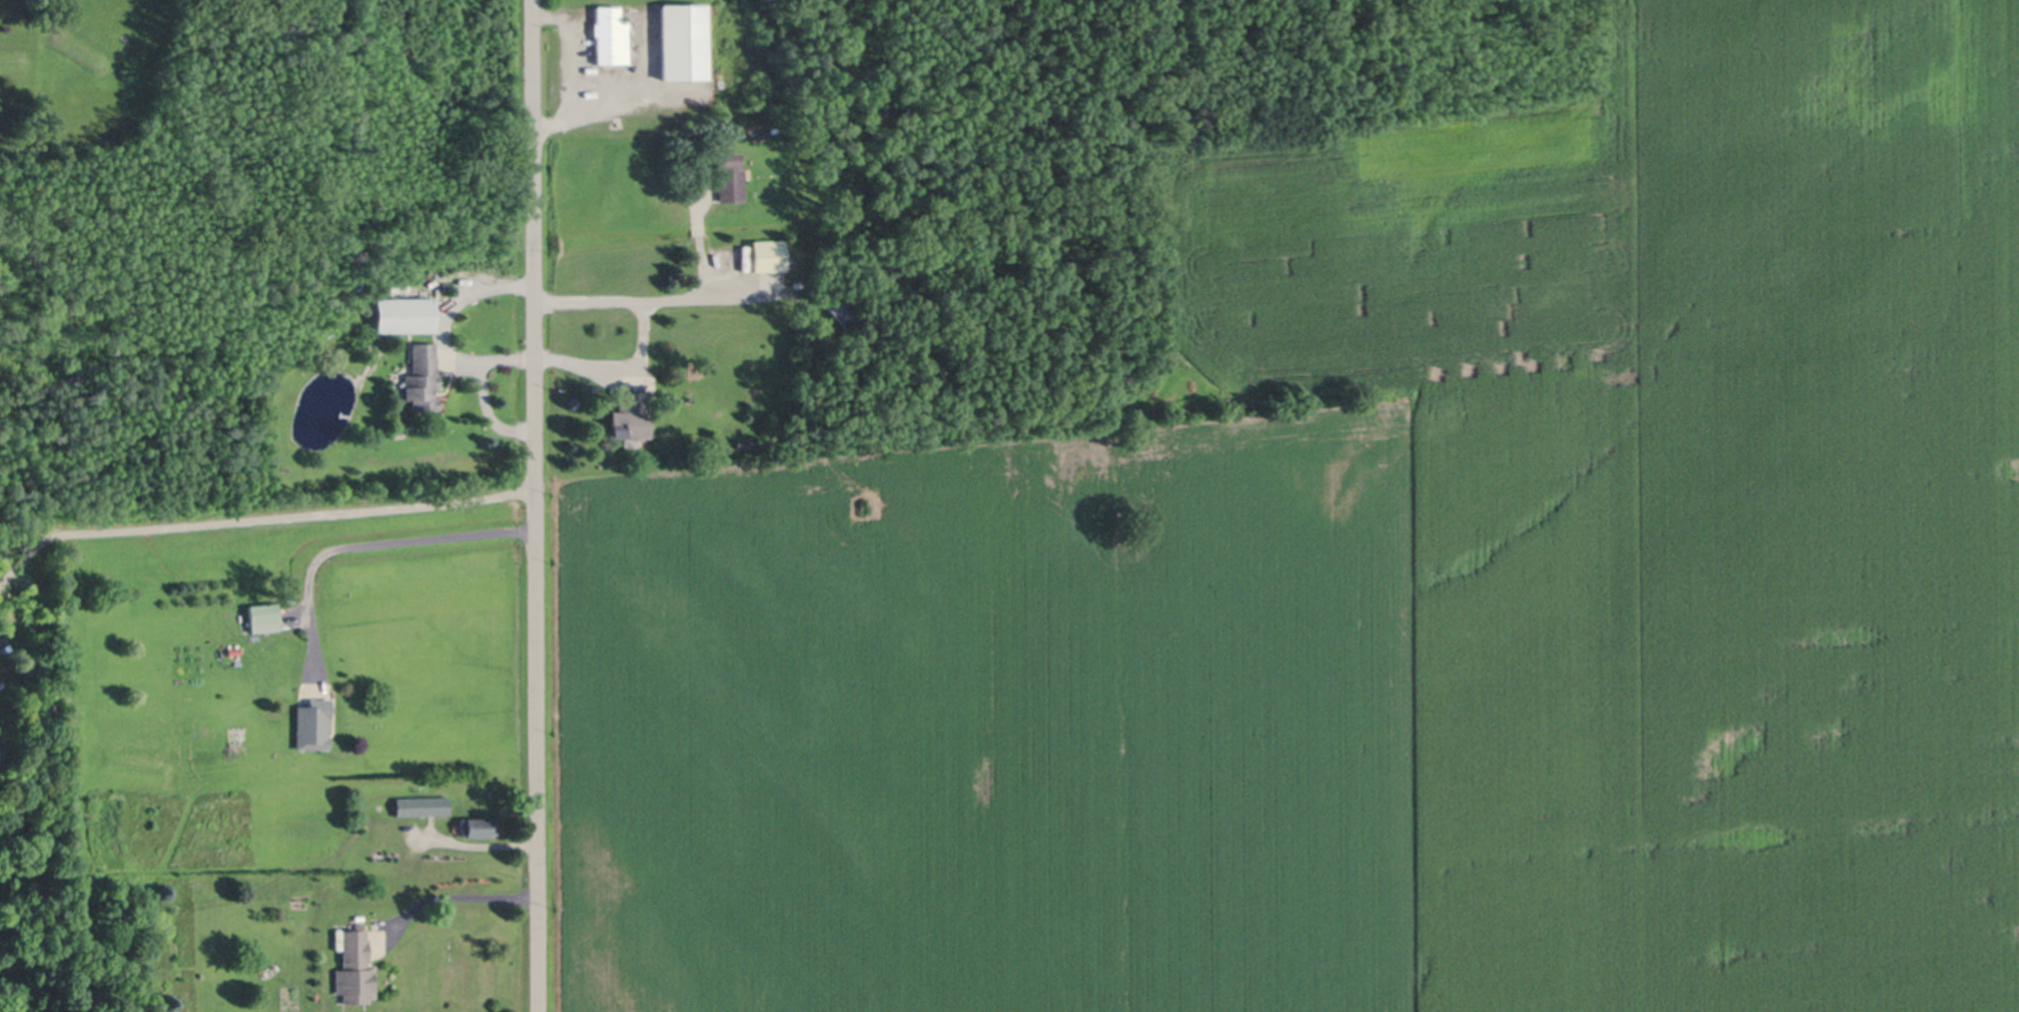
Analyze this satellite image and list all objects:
building: (610, 35)
building: (684, 40)
road: (570, 50)
building: (593, 71)
road: (606, 109)
building: (729, 176)
building: (746, 250)
building: (768, 255)
building: (356, 281)
road: (693, 288)
building: (363, 291)
building: (827, 295)
building: (845, 310)
building: (404, 315)
road: (643, 332)
building: (422, 377)
building: (630, 415)
building: (744, 442)
road: (534, 505)
road: (255, 523)
road: (368, 544)
crop: (1379, 594)
building: (264, 617)
building: (235, 650)
building: (314, 723)
building: (422, 803)
building: (478, 825)
road: (456, 895)
building: (355, 968)

